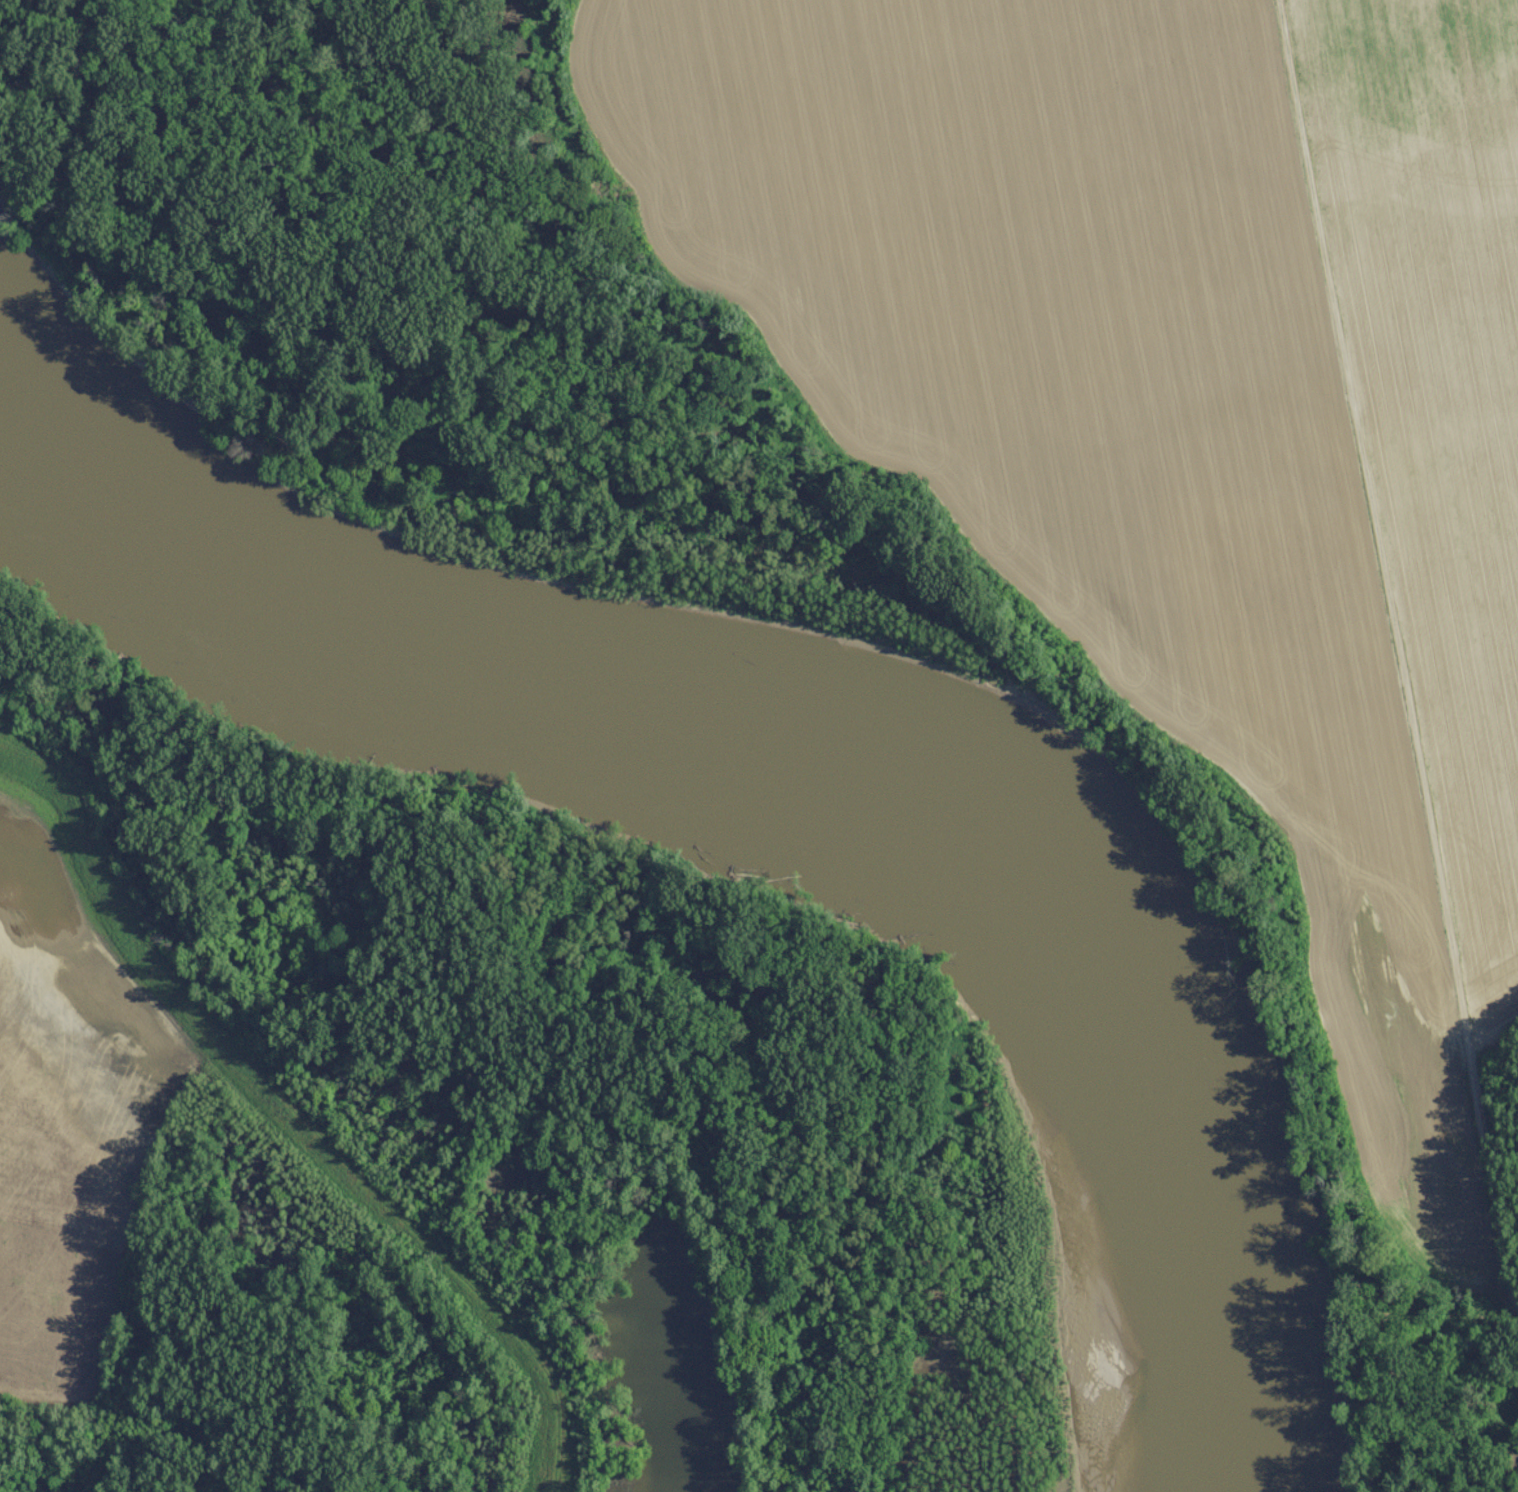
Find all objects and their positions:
road: (1394, 654)
river: (824, 752)

